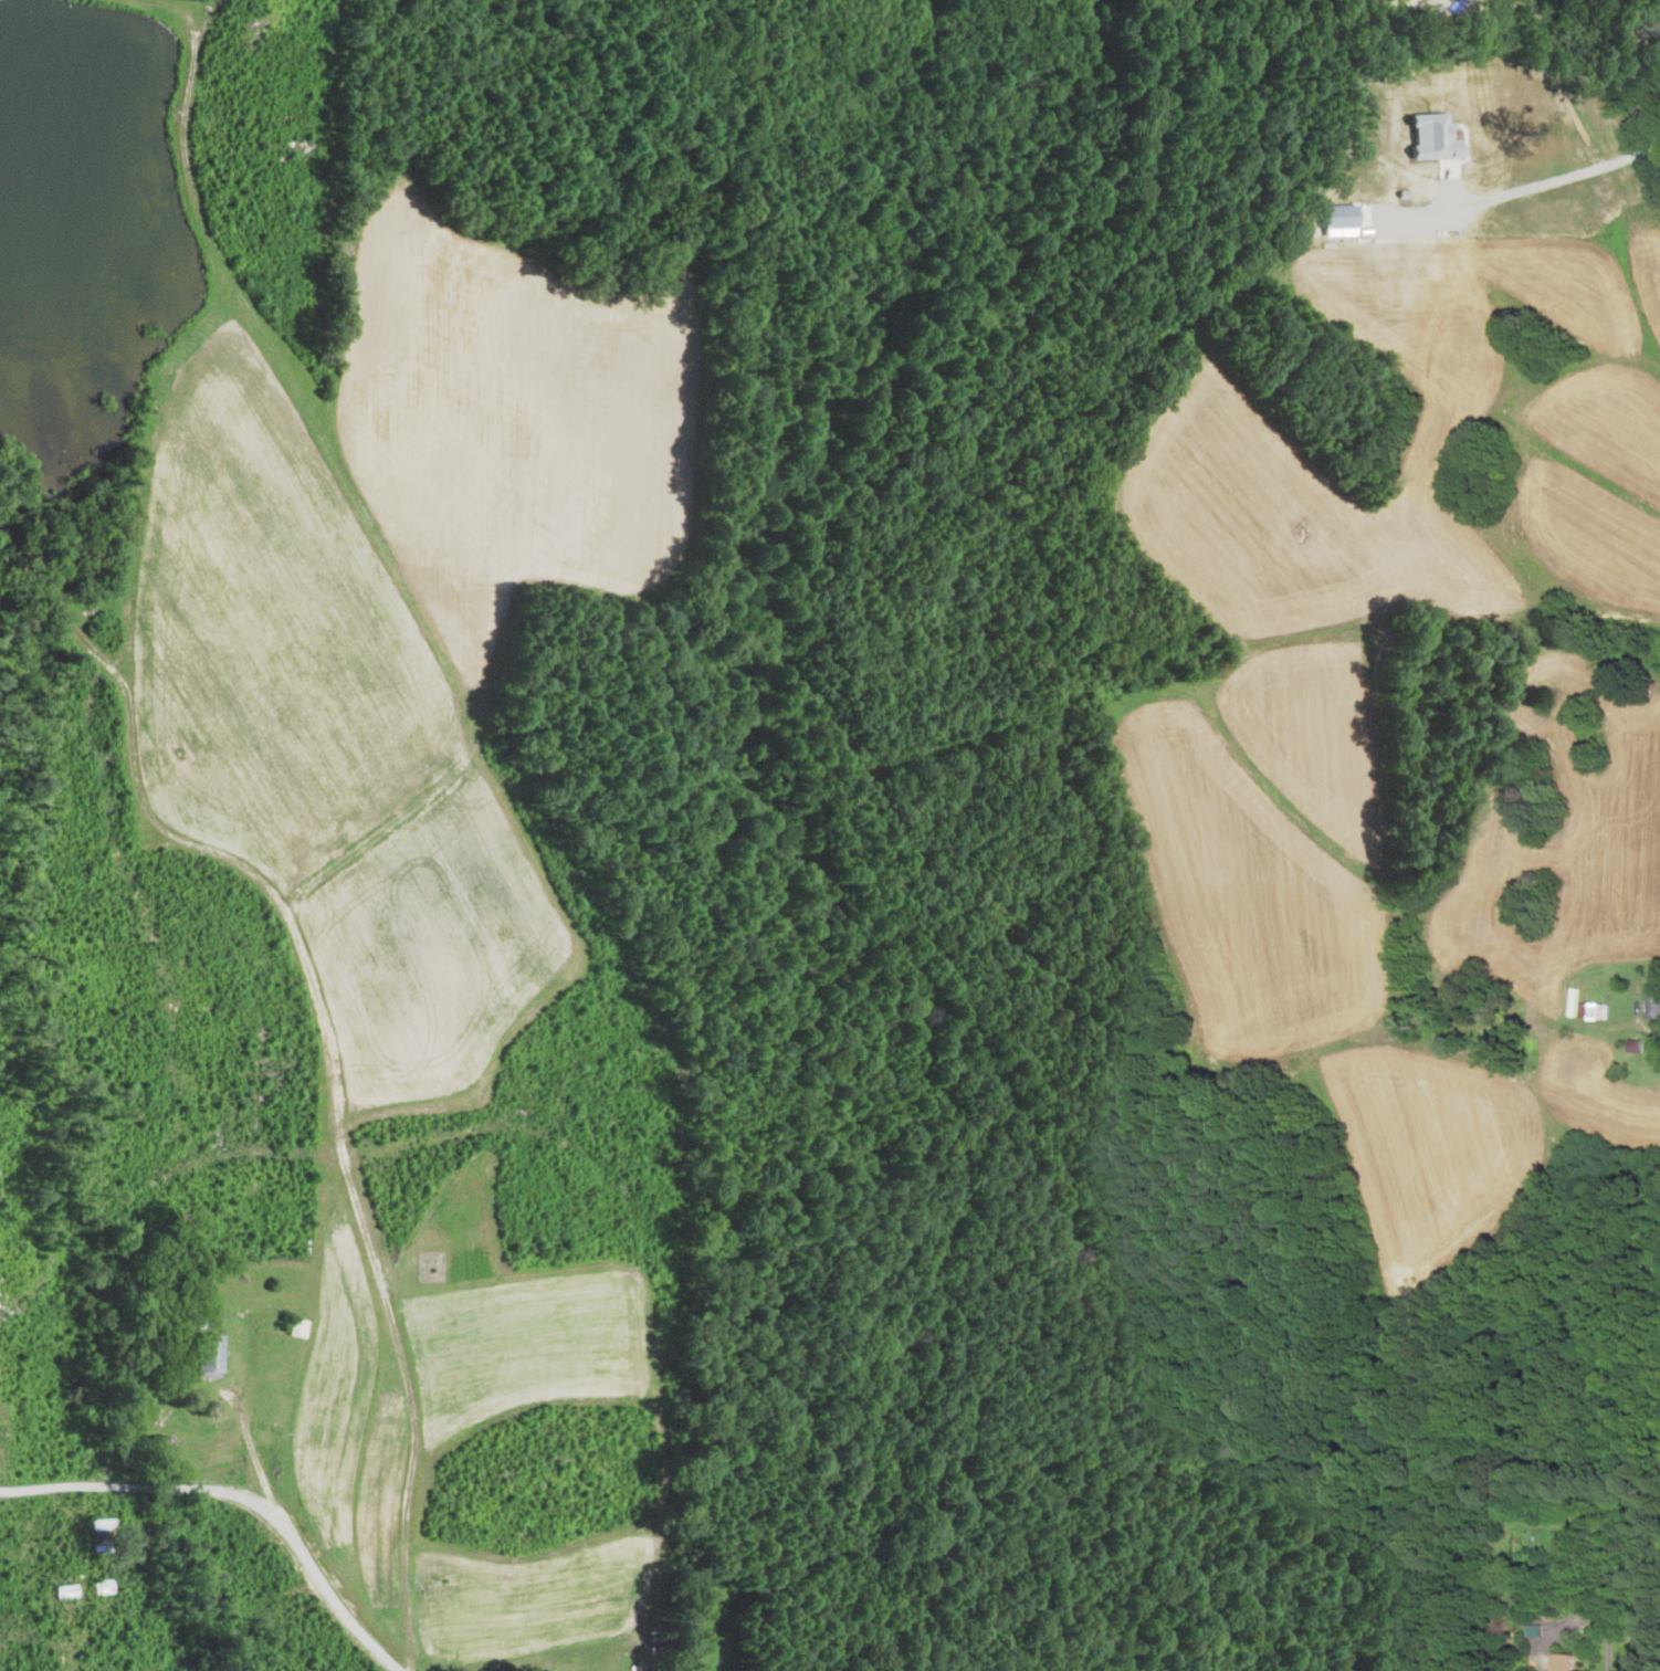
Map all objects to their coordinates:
road: (1563, 176)
building: (1653, 1006)
building: (1591, 1010)
building: (294, 1327)
building: (204, 1355)
road: (250, 1483)
building: (98, 1587)
building: (61, 1591)
road: (1588, 1619)
building: (1564, 1662)

